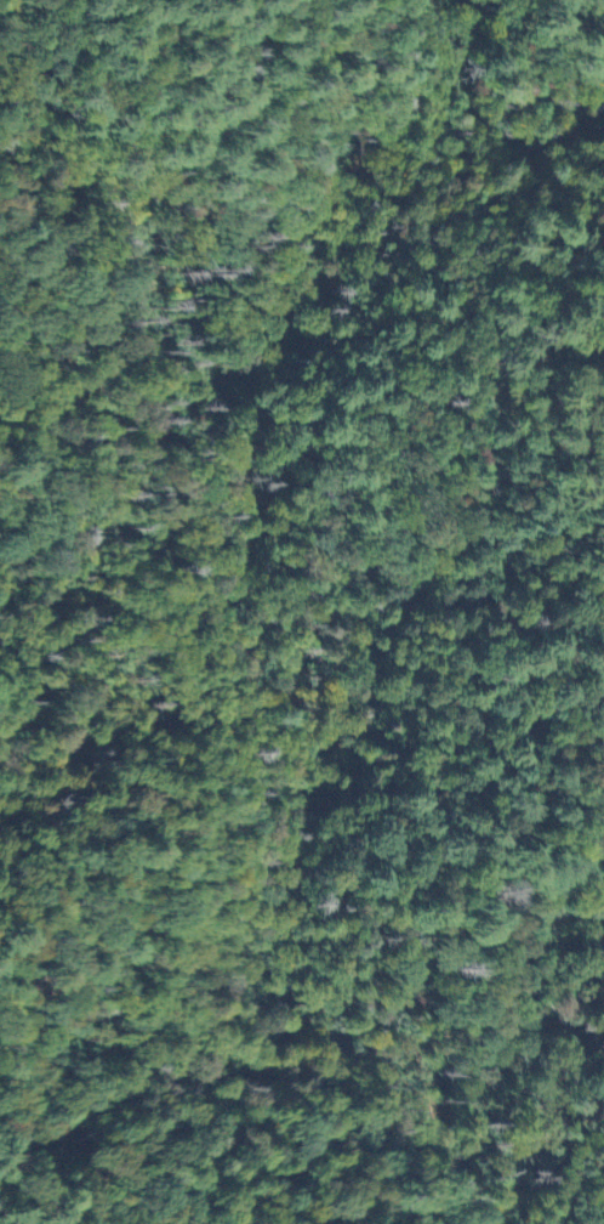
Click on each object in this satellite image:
road: (558, 36)
road: (144, 136)
road: (404, 459)

